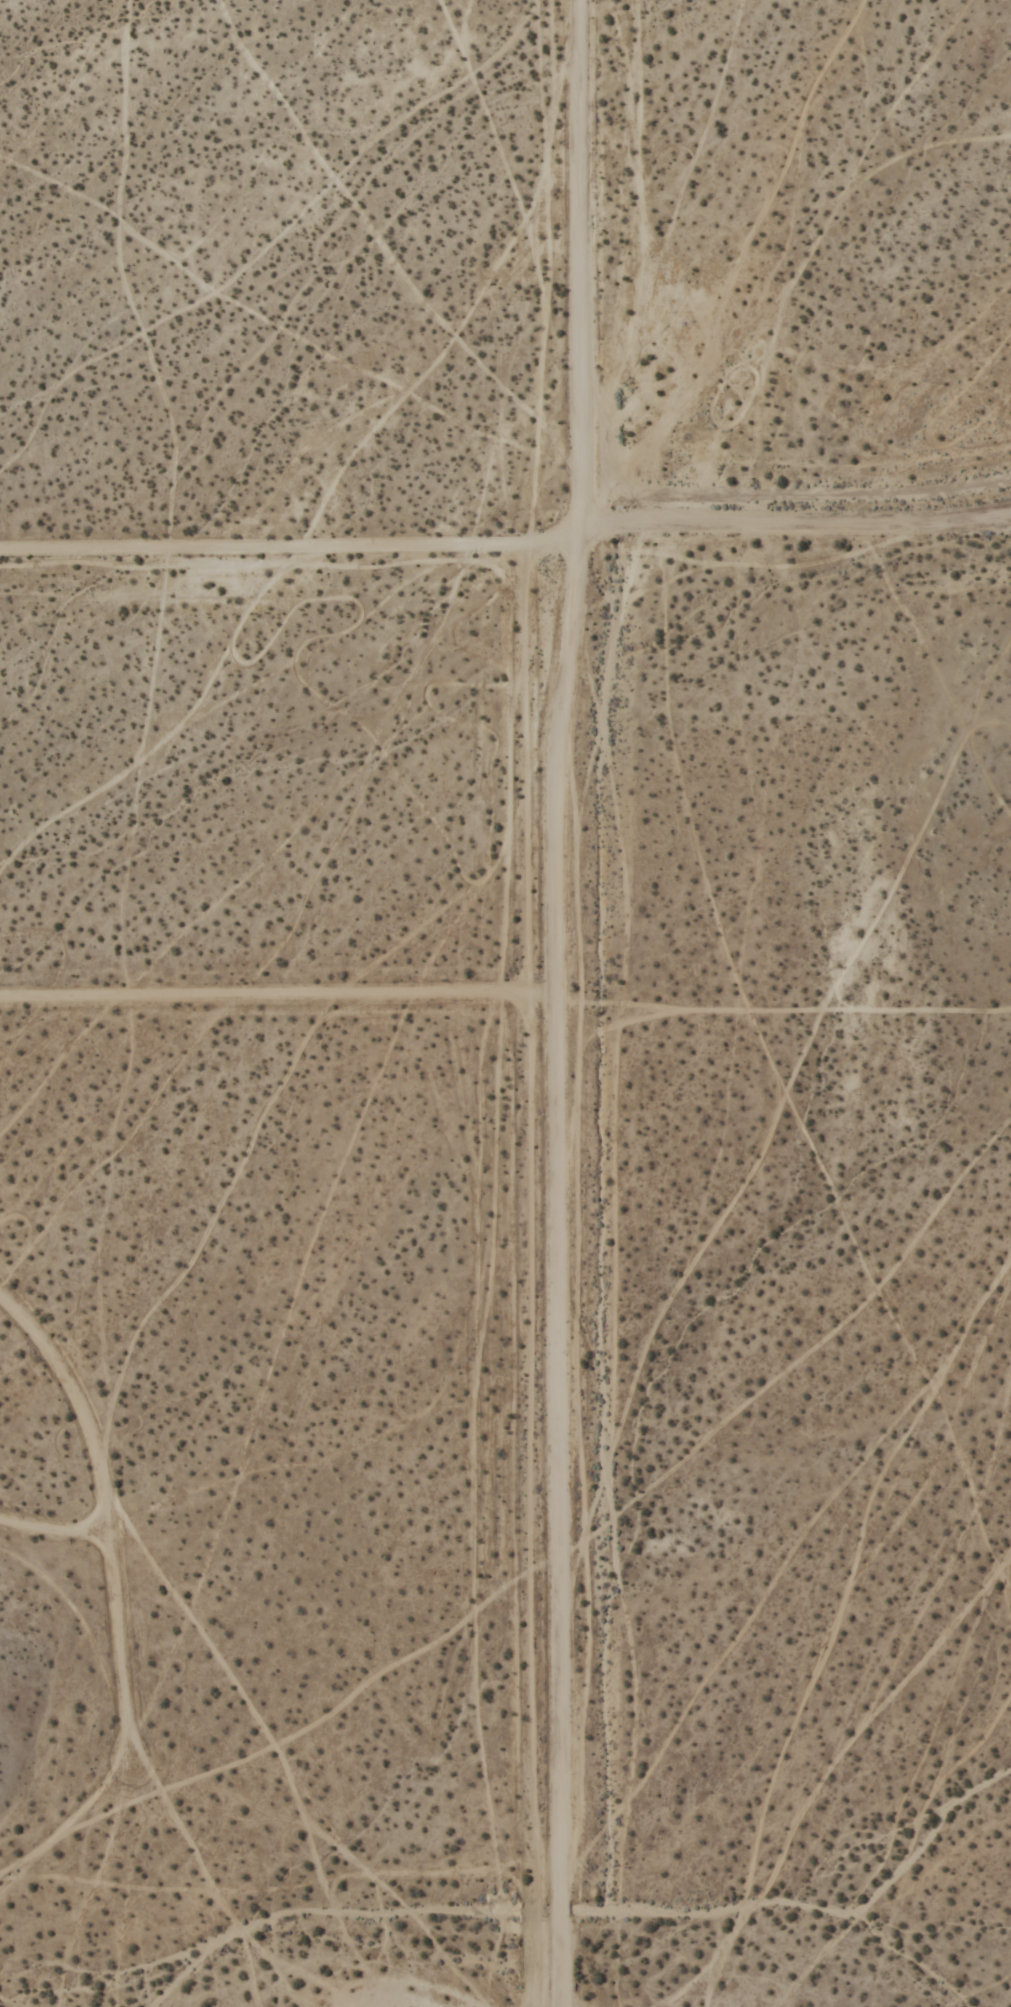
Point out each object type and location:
road: (777, 498)
road: (792, 532)
road: (567, 548)
road: (279, 549)
road: (280, 997)
road: (538, 998)
road: (561, 1275)
road: (110, 1514)
road: (55, 1528)

